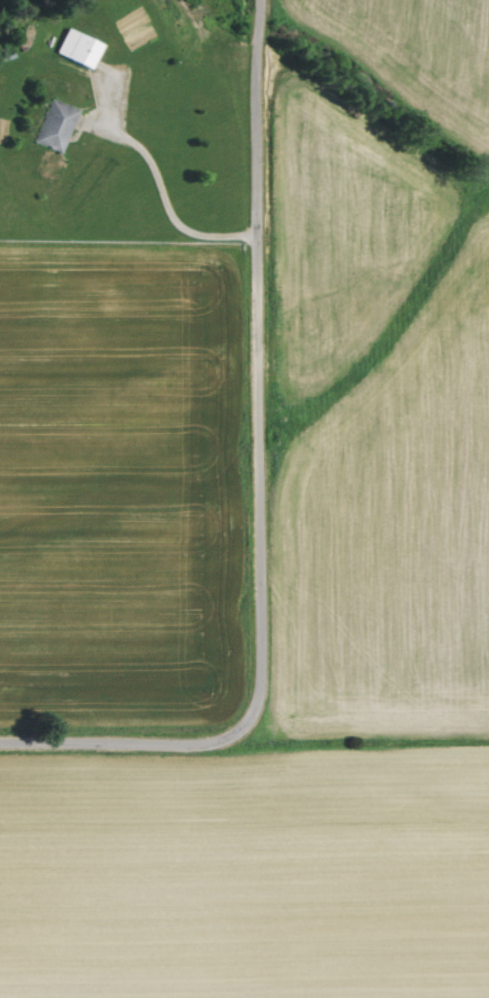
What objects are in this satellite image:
building: (79, 49)
building: (58, 126)
road: (162, 194)
road: (259, 387)
road: (105, 748)

